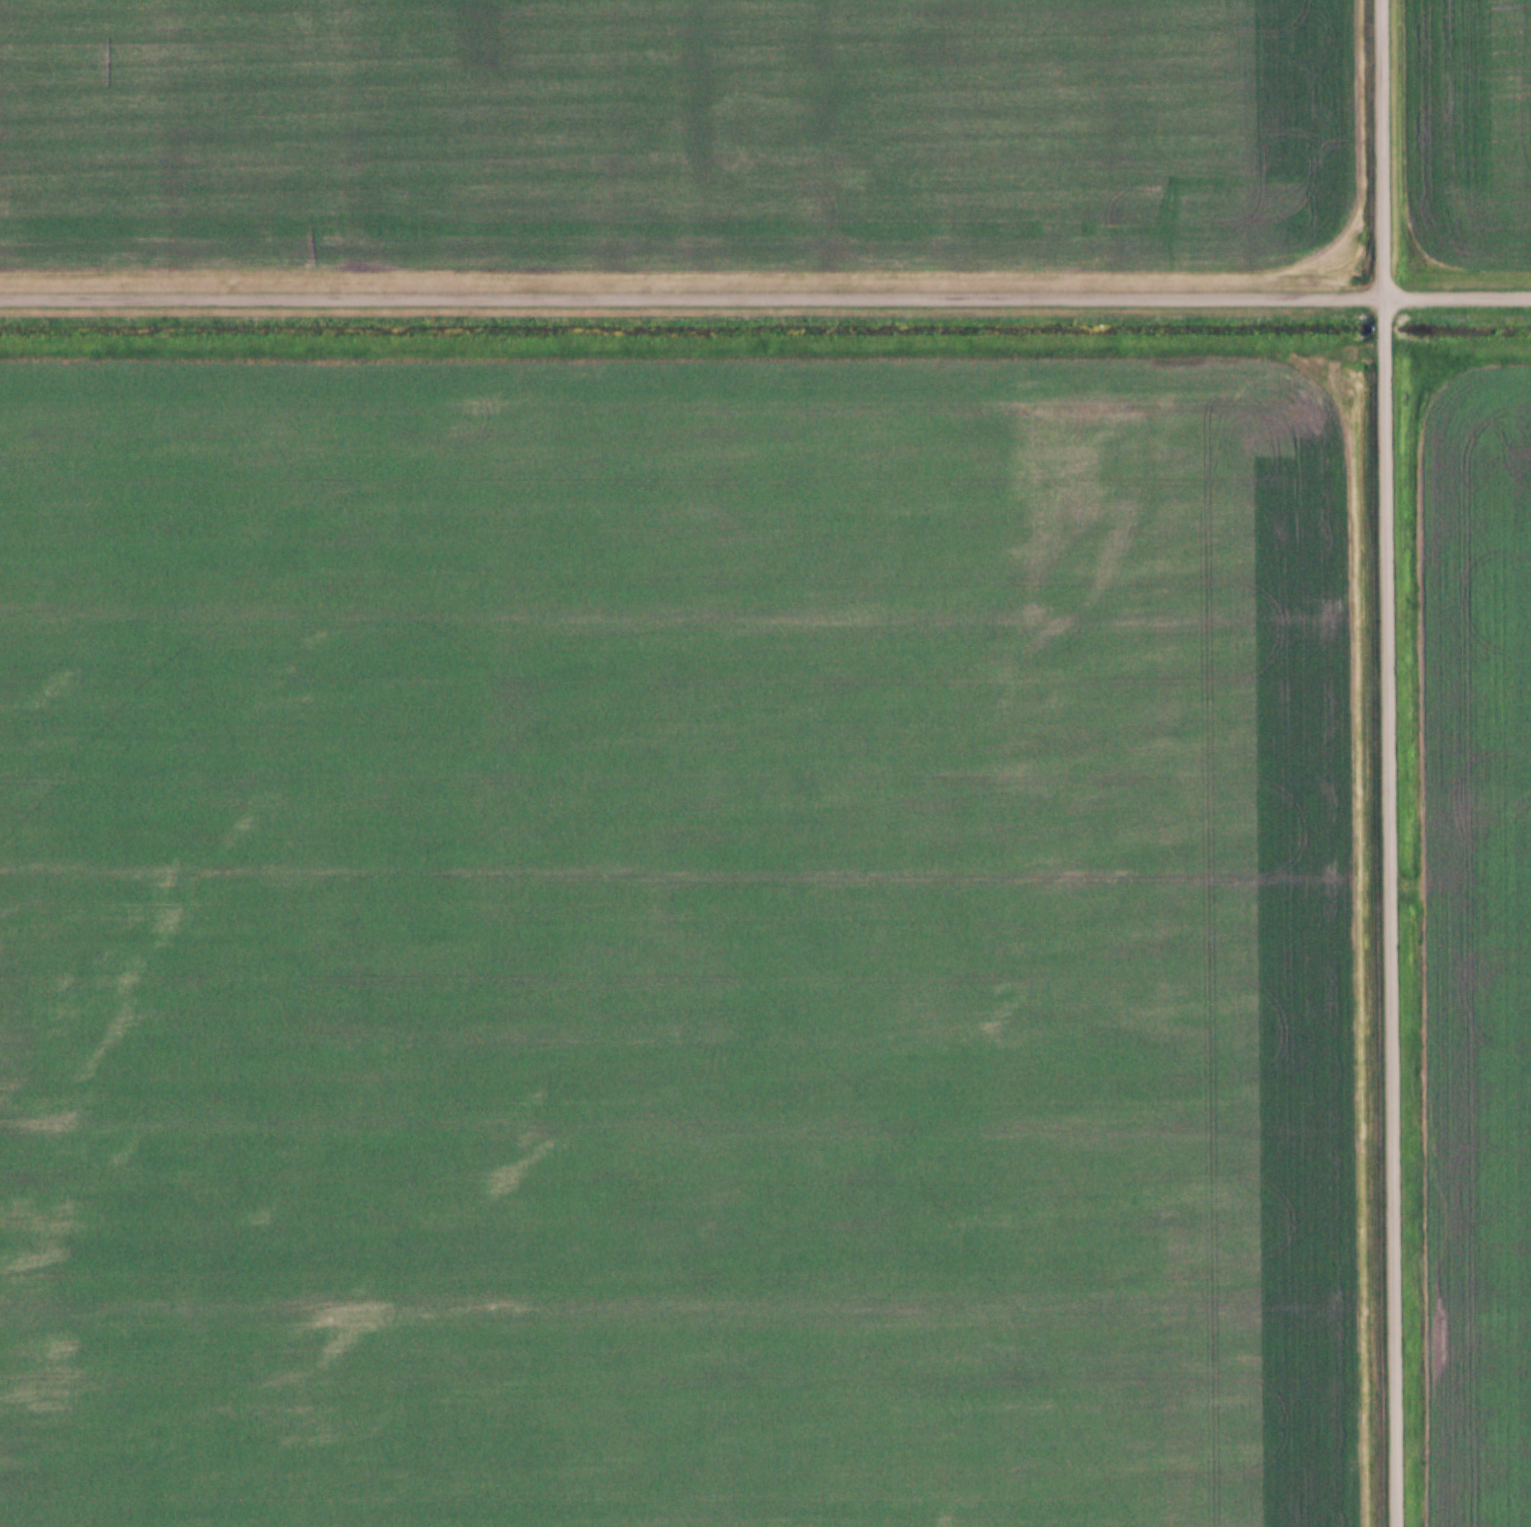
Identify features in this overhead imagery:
crop: (1469, 129)
crop: (673, 136)
road: (765, 297)
road: (1393, 763)
crop: (1481, 935)
crop: (684, 950)

